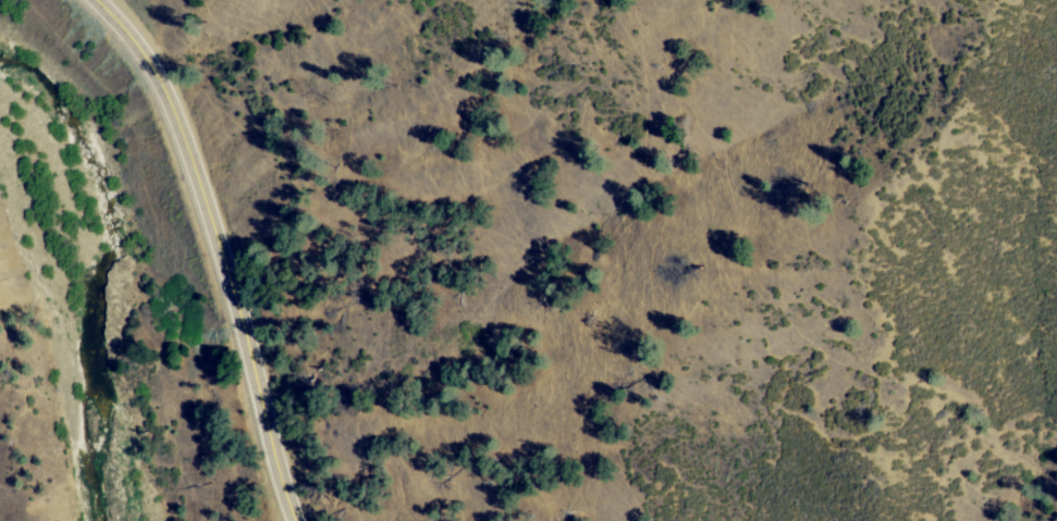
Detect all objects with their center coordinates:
road: (216, 248)

